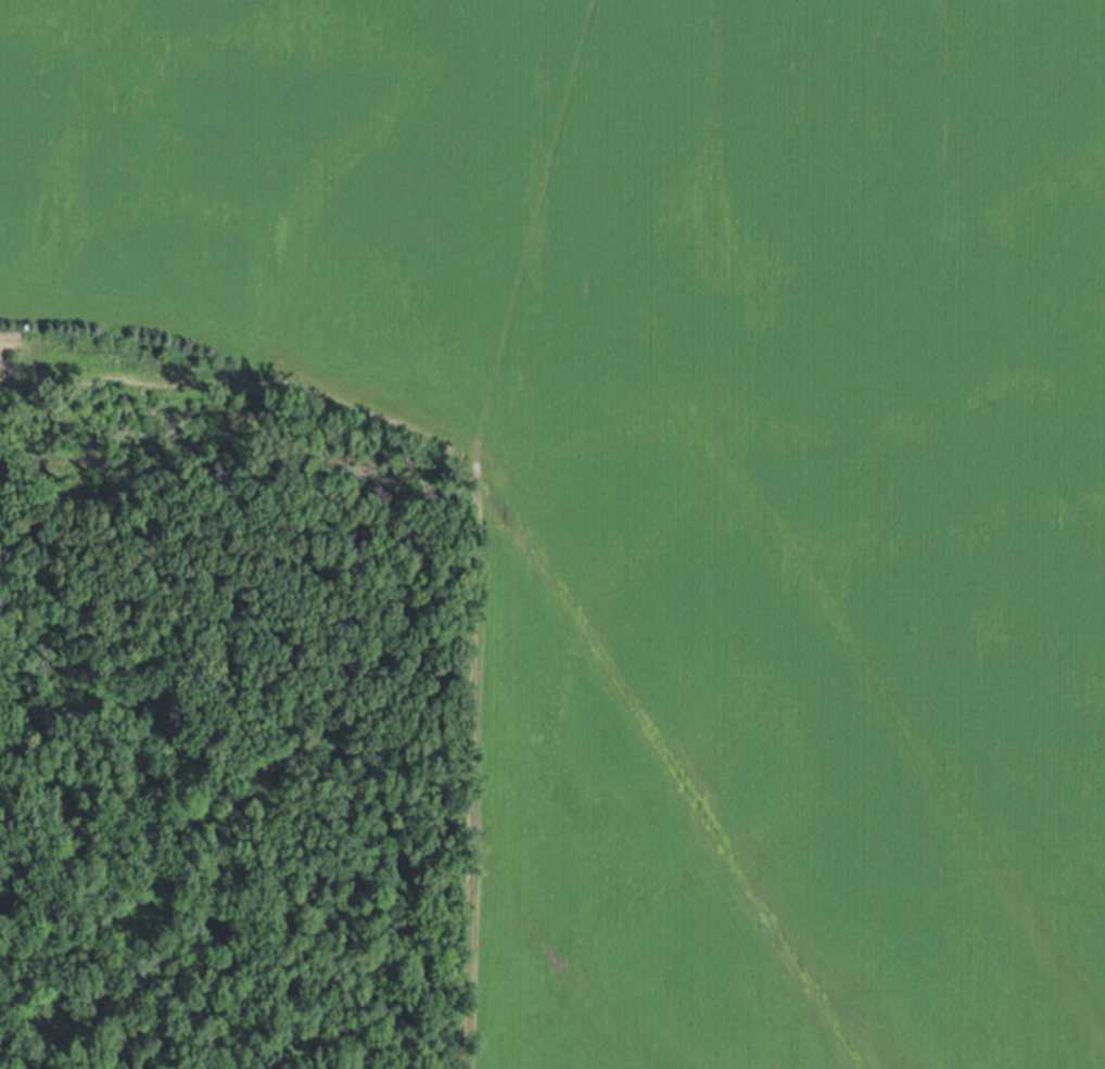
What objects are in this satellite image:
crop: (678, 467)

